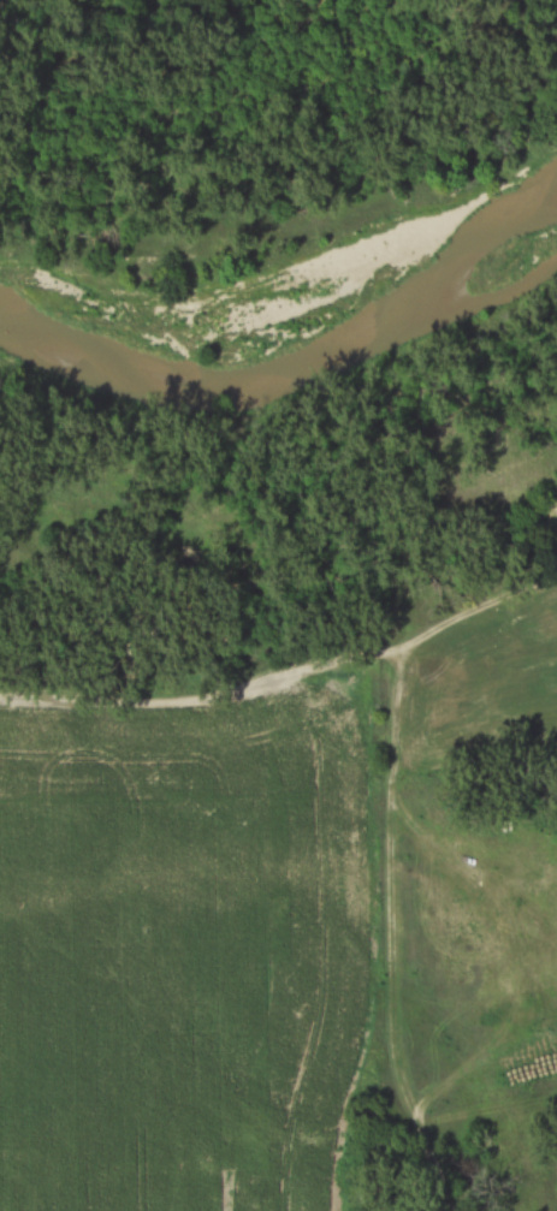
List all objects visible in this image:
river: (290, 366)

